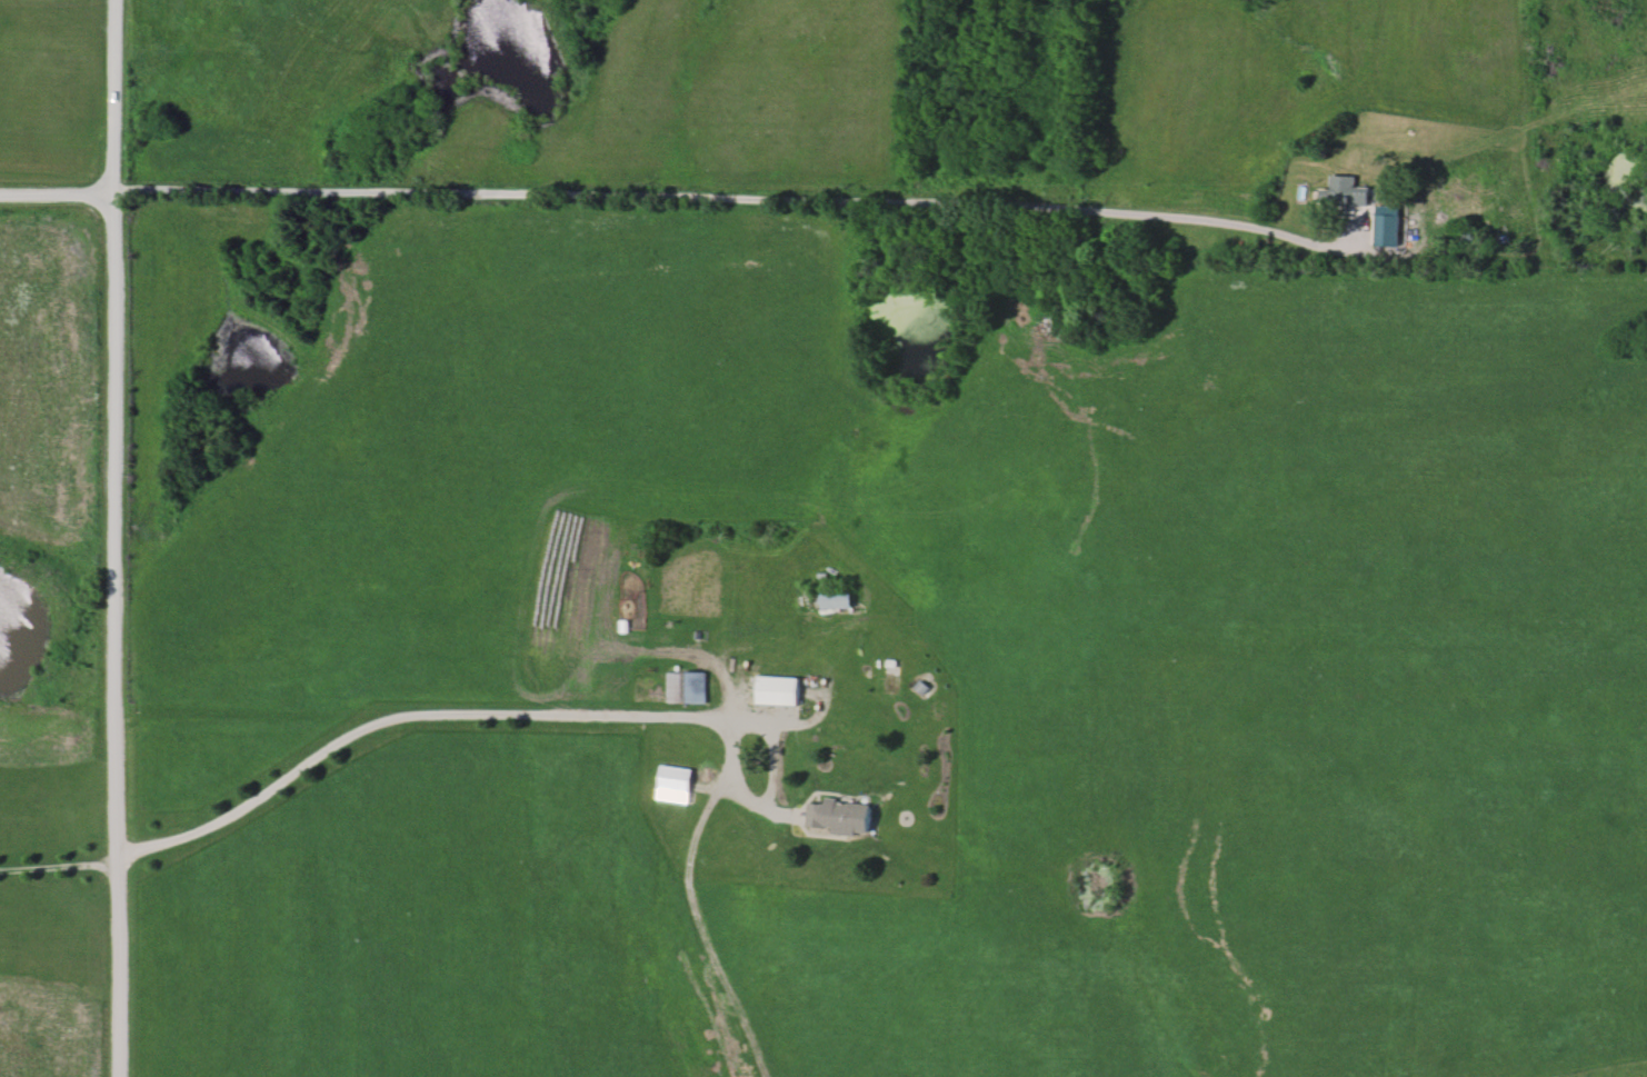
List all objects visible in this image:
road: (58, 192)
building: (1342, 192)
road: (751, 199)
road: (116, 538)
building: (835, 600)
building: (686, 687)
building: (775, 690)
road: (396, 715)
road: (729, 782)
building: (671, 784)
building: (837, 816)
road: (59, 864)

